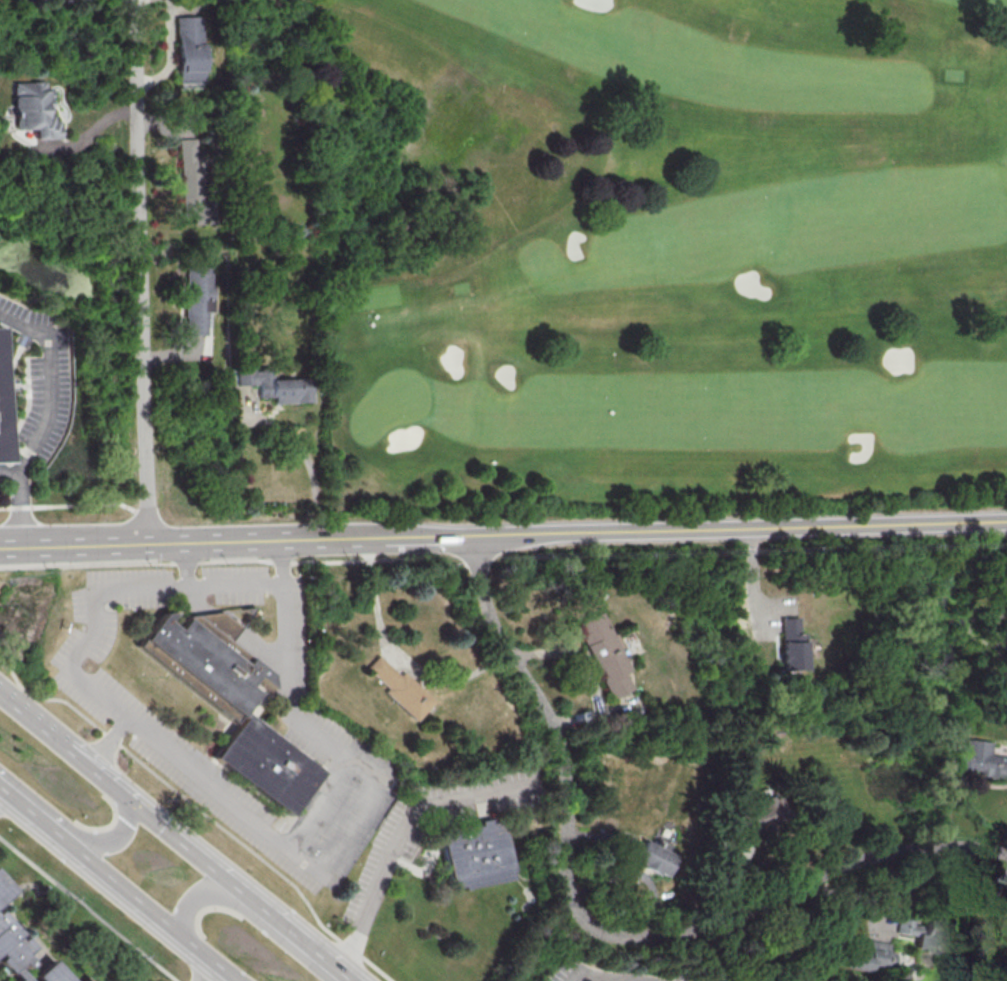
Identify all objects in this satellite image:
road: (169, 51)
building: (188, 51)
building: (33, 109)
road: (89, 135)
building: (191, 181)
park: (650, 251)
road: (140, 271)
building: (197, 298)
road: (50, 380)
building: (275, 385)
building: (3, 407)
road: (311, 466)
road: (21, 500)
road: (74, 504)
road: (744, 528)
road: (240, 540)
road: (241, 561)
road: (753, 581)
road: (263, 585)
building: (1005, 634)
road: (89, 637)
building: (792, 644)
building: (604, 653)
road: (588, 676)
building: (399, 688)
building: (232, 701)
road: (44, 729)
building: (980, 759)
road: (566, 767)
road: (7, 802)
traffic signals: (134, 804)
road: (202, 810)
building: (763, 813)
road: (36, 814)
road: (352, 825)
road: (166, 831)
road: (405, 835)
road: (114, 840)
building: (476, 853)
building: (645, 855)
road: (839, 869)
building: (2, 889)
road: (200, 890)
road: (88, 908)
road: (155, 912)
building: (924, 932)
road: (298, 939)
building: (11, 952)
building: (869, 957)
road: (206, 970)
road: (2, 972)
building: (50, 974)
road: (596, 974)
building: (89, 980)
road: (625, 980)

